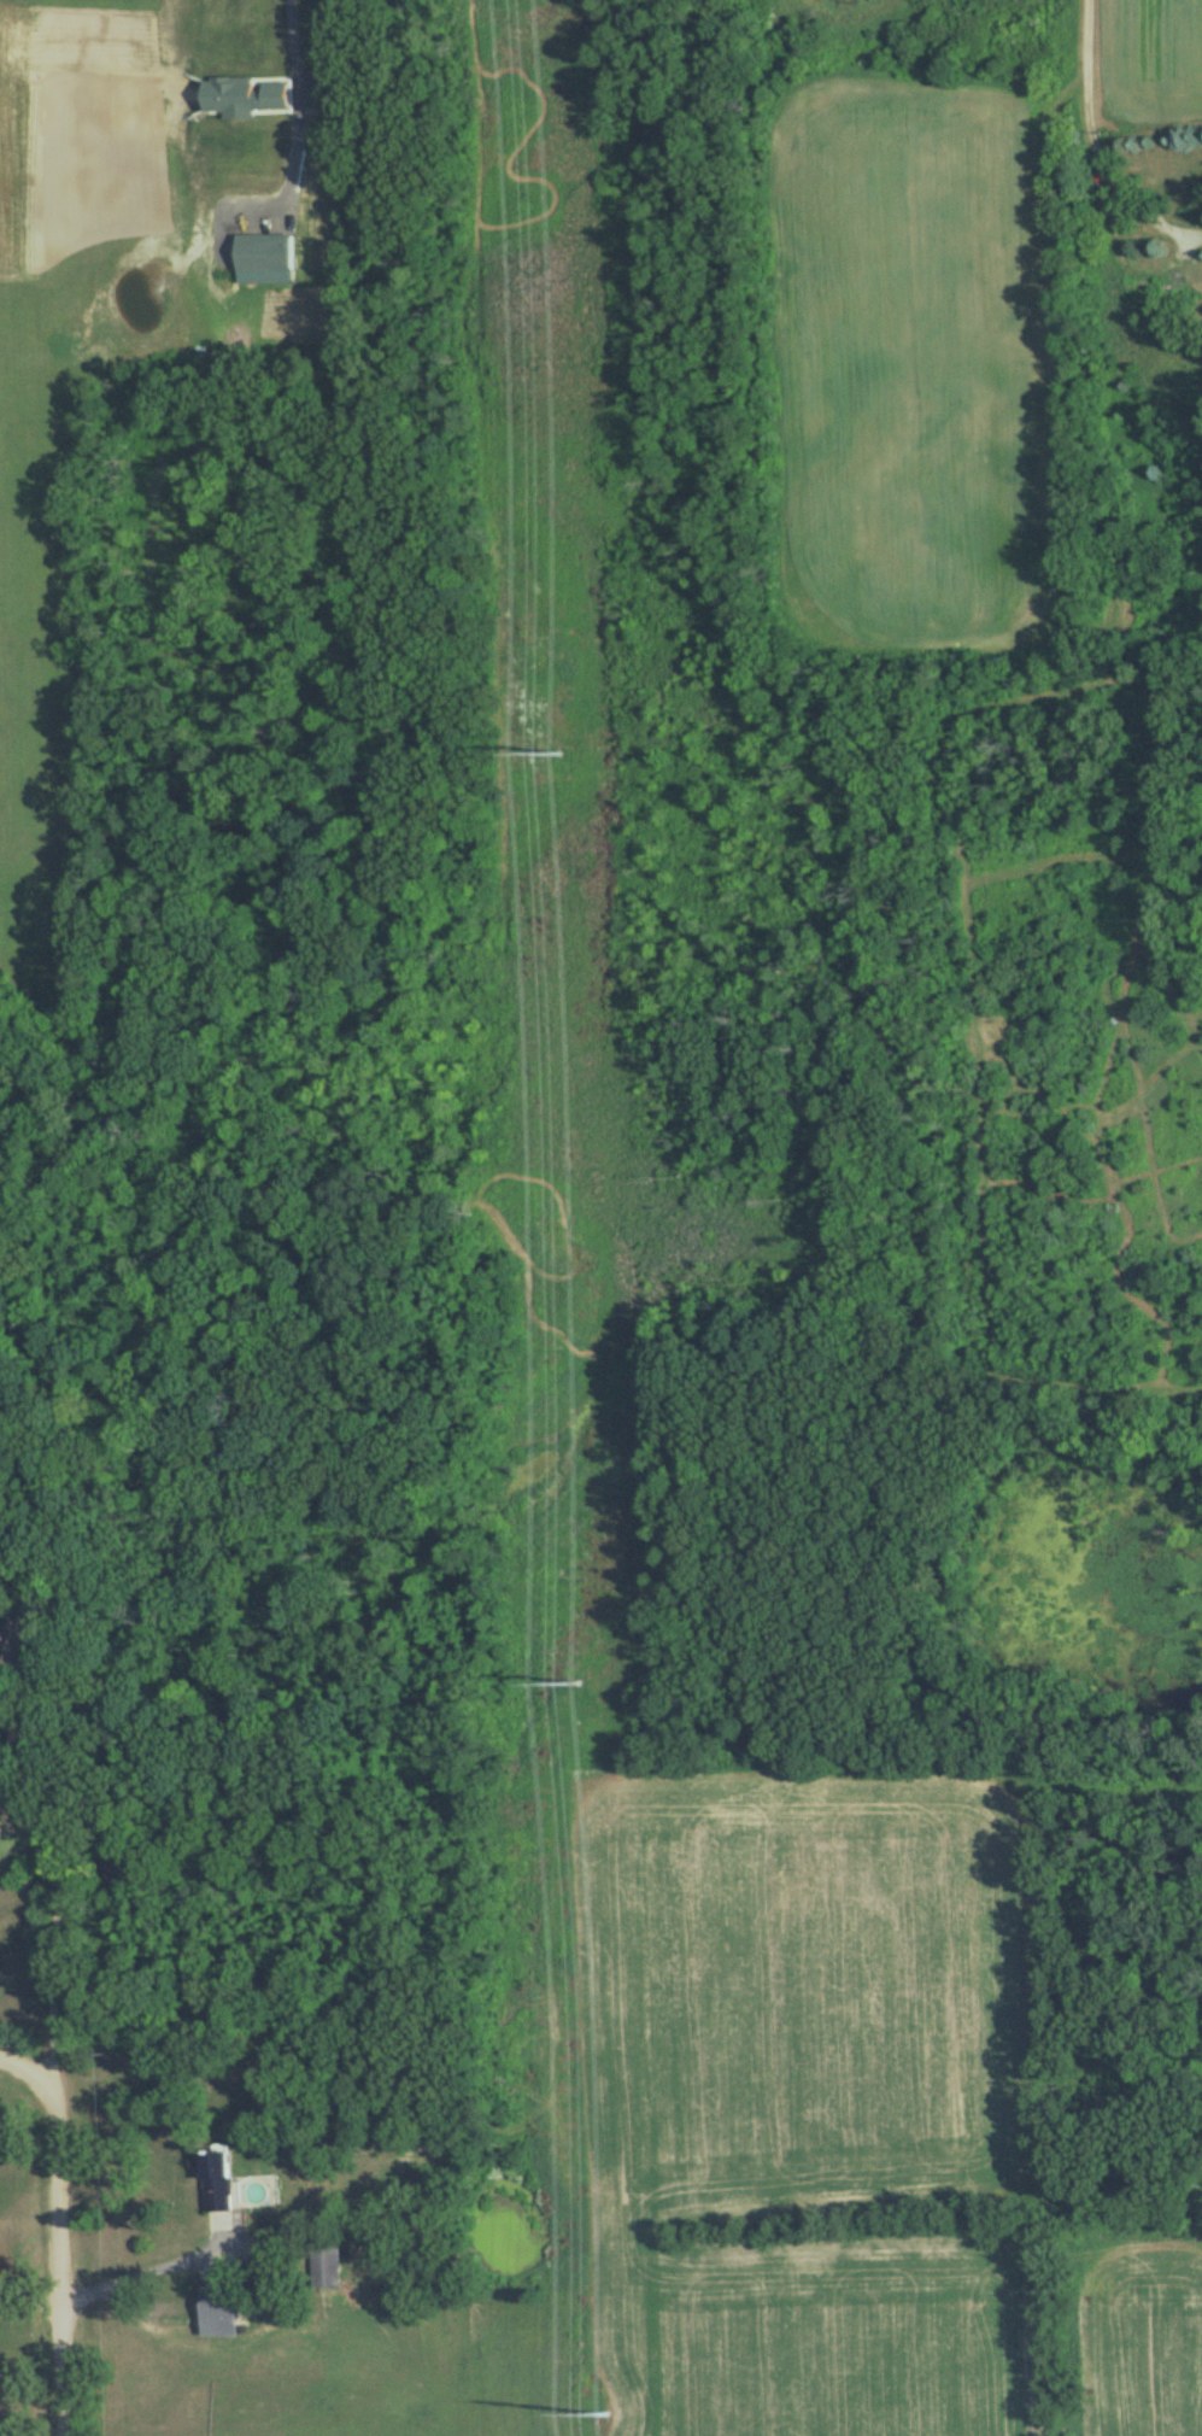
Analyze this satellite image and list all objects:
road: (1090, 74)
road: (299, 103)
road: (1168, 265)
power tower: (561, 754)
building: (11, 1642)
power tower: (577, 1682)
building: (121, 1862)
road: (55, 1974)
building: (215, 2182)
road: (55, 2231)
building: (324, 2266)
road: (141, 2272)
road: (29, 2301)
building: (217, 2313)
power tower: (608, 2415)

